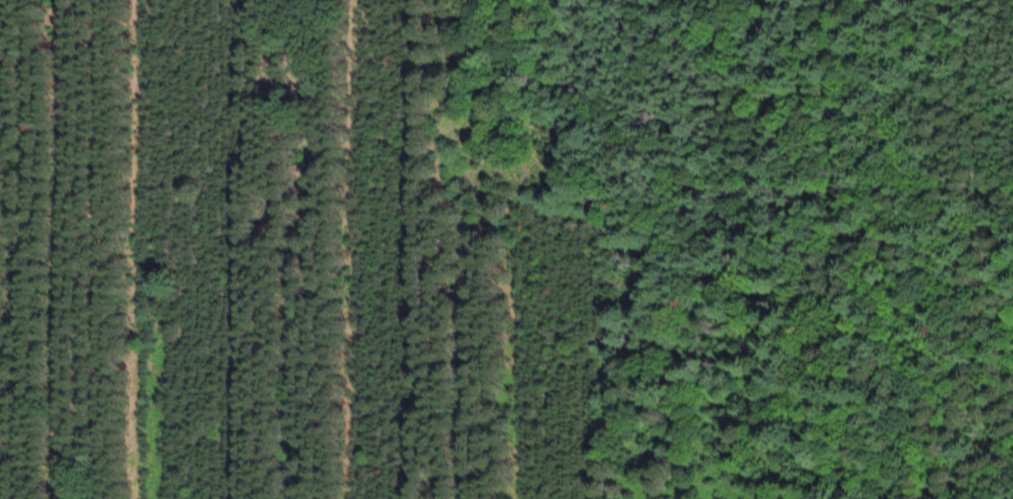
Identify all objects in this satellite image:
road: (843, 249)

